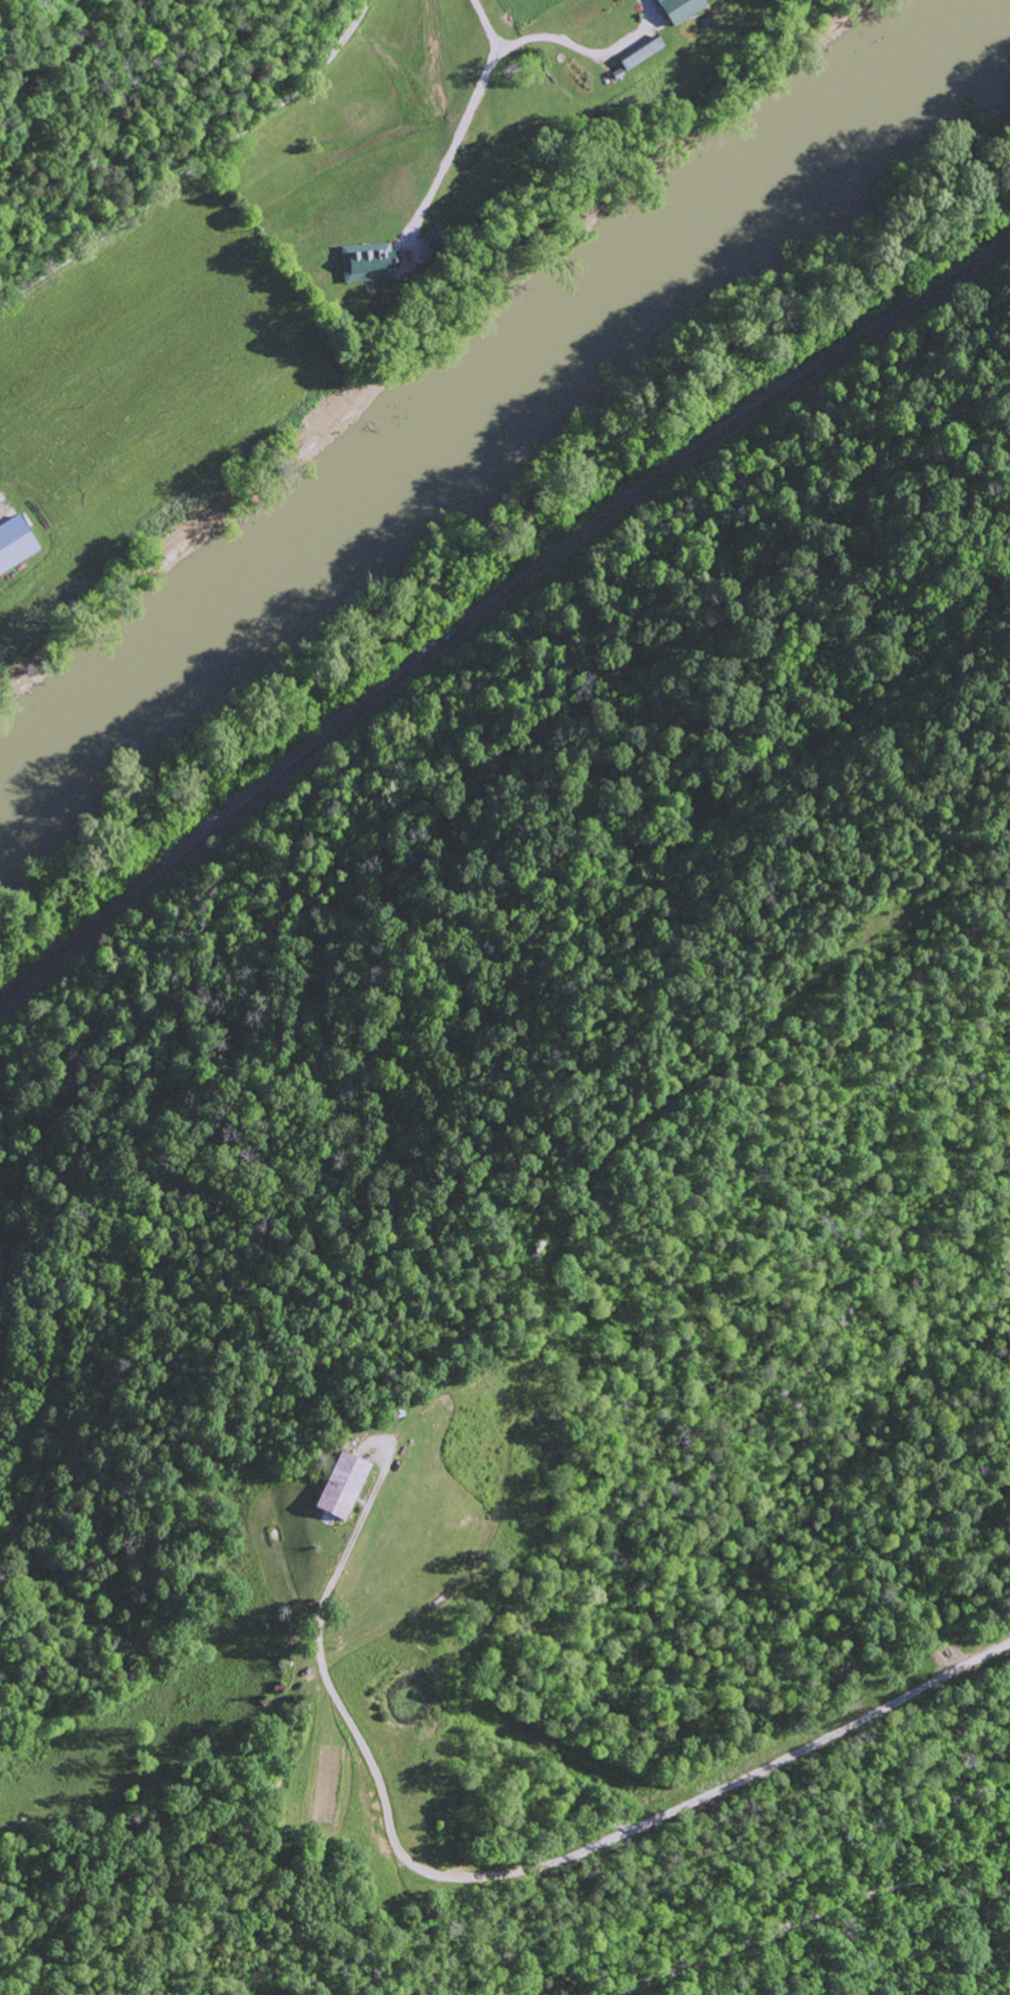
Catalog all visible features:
building: (677, 9)
building: (653, 11)
road: (341, 49)
building: (638, 53)
road: (149, 122)
road: (140, 140)
building: (427, 235)
building: (367, 264)
river: (497, 393)
building: (13, 543)
railway: (492, 610)
building: (333, 1487)
road: (508, 1870)
road: (815, 1917)

